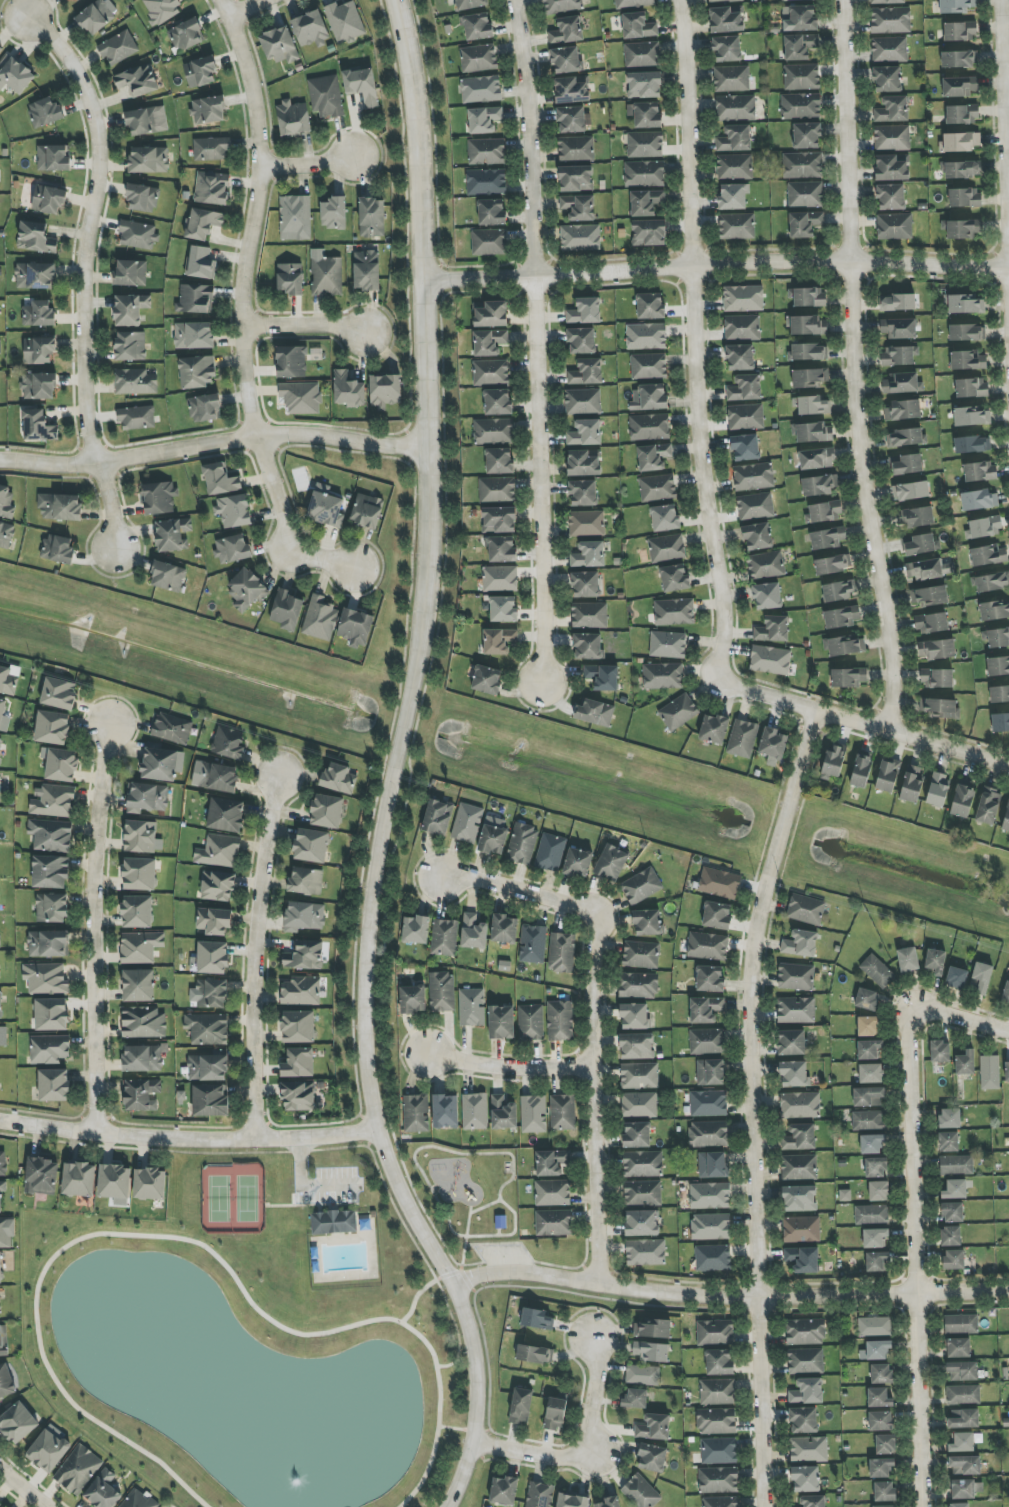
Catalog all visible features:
building: (77, 0)
building: (723, 0)
building: (784, 0)
building: (886, 1)
building: (633, 3)
building: (469, 4)
road: (241, 6)
building: (562, 6)
building: (956, 6)
building: (161, 10)
building: (95, 17)
building: (799, 18)
building: (726, 19)
building: (890, 20)
building: (345, 22)
building: (638, 26)
building: (478, 27)
building: (310, 29)
building: (566, 30)
building: (960, 31)
building: (186, 35)
building: (280, 46)
building: (799, 46)
building: (0, 48)
building: (117, 48)
building: (726, 49)
building: (889, 49)
building: (642, 54)
building: (479, 58)
building: (959, 59)
building: (567, 60)
building: (201, 72)
building: (15, 76)
building: (801, 77)
building: (731, 78)
building: (887, 79)
building: (138, 80)
building: (644, 85)
building: (361, 86)
building: (959, 86)
building: (481, 89)
building: (571, 89)
building: (326, 97)
building: (801, 106)
building: (735, 108)
building: (892, 109)
building: (209, 110)
building: (45, 112)
building: (645, 114)
building: (962, 115)
building: (293, 119)
building: (572, 119)
building: (483, 120)
building: (147, 121)
building: (806, 135)
building: (892, 137)
building: (735, 139)
building: (959, 142)
building: (644, 144)
building: (576, 148)
building: (211, 149)
road: (1004, 149)
building: (486, 152)
building: (54, 158)
building: (149, 160)
building: (802, 165)
road: (306, 166)
building: (734, 166)
building: (892, 167)
building: (961, 169)
building: (644, 173)
building: (575, 178)
building: (485, 182)
building: (212, 188)
building: (805, 194)
building: (733, 197)
building: (890, 197)
building: (964, 197)
building: (142, 198)
building: (48, 200)
building: (646, 202)
building: (578, 207)
building: (491, 212)
building: (334, 213)
building: (372, 217)
building: (295, 218)
building: (203, 223)
building: (805, 224)
building: (736, 226)
building: (894, 226)
building: (962, 228)
building: (648, 233)
building: (137, 235)
building: (36, 238)
building: (580, 238)
building: (489, 242)
building: (201, 263)
road: (714, 265)
building: (367, 271)
road: (80, 273)
building: (131, 273)
building: (35, 276)
building: (327, 276)
building: (291, 279)
building: (807, 297)
building: (743, 298)
building: (196, 299)
building: (897, 302)
building: (964, 304)
road: (241, 306)
building: (650, 306)
building: (130, 310)
building: (585, 311)
building: (38, 314)
building: (491, 315)
road: (303, 325)
building: (806, 325)
building: (742, 327)
building: (898, 328)
building: (967, 332)
building: (194, 335)
building: (646, 336)
road: (536, 339)
road: (693, 339)
building: (581, 341)
building: (489, 342)
building: (131, 346)
building: (1, 348)
building: (39, 351)
building: (808, 352)
building: (899, 355)
building: (740, 357)
building: (967, 360)
building: (291, 362)
building: (648, 366)
road: (854, 367)
building: (197, 372)
building: (490, 372)
building: (586, 372)
building: (809, 378)
building: (135, 382)
building: (902, 383)
building: (39, 386)
building: (745, 388)
building: (971, 388)
building: (348, 390)
building: (384, 391)
building: (649, 397)
building: (301, 398)
building: (583, 401)
building: (497, 402)
building: (811, 405)
building: (205, 408)
building: (903, 410)
building: (972, 416)
building: (745, 417)
building: (136, 418)
building: (38, 426)
building: (649, 427)
building: (494, 431)
building: (812, 432)
building: (585, 433)
building: (905, 438)
road: (213, 442)
building: (972, 444)
building: (745, 447)
building: (653, 457)
building: (817, 458)
building: (499, 461)
building: (584, 463)
building: (908, 465)
building: (980, 472)
building: (753, 476)
building: (220, 479)
building: (820, 485)
building: (657, 488)
building: (497, 490)
building: (911, 491)
building: (582, 493)
building: (159, 498)
building: (979, 500)
building: (6, 502)
building: (755, 506)
building: (60, 507)
building: (326, 509)
building: (233, 511)
building: (366, 511)
building: (824, 512)
building: (917, 517)
building: (664, 518)
building: (498, 520)
building: (586, 523)
building: (983, 528)
building: (6, 535)
building: (172, 535)
building: (756, 536)
building: (827, 538)
building: (922, 544)
building: (666, 548)
building: (58, 549)
building: (232, 549)
building: (502, 549)
building: (588, 555)
building: (988, 555)
building: (833, 564)
building: (766, 565)
building: (949, 568)
building: (924, 569)
building: (168, 577)
building: (499, 578)
building: (675, 578)
building: (990, 581)
building: (585, 584)
building: (246, 590)
building: (839, 590)
building: (929, 595)
building: (767, 596)
building: (503, 609)
building: (286, 610)
building: (994, 610)
building: (674, 612)
building: (589, 615)
building: (841, 617)
building: (319, 618)
building: (931, 623)
building: (355, 627)
building: (772, 629)
building: (996, 637)
building: (498, 641)
building: (667, 644)
building: (588, 646)
building: (845, 646)
building: (937, 649)
building: (770, 660)
building: (998, 666)
building: (662, 676)
building: (602, 677)
building: (849, 677)
building: (937, 678)
building: (486, 680)
building: (7, 681)
building: (59, 693)
building: (999, 694)
building: (940, 708)
building: (2, 709)
building: (678, 712)
building: (594, 713)
building: (1000, 722)
road: (861, 726)
building: (52, 728)
building: (172, 729)
building: (714, 729)
building: (742, 738)
building: (228, 743)
building: (772, 746)
building: (0, 750)
building: (833, 762)
building: (162, 764)
building: (61, 765)
road: (391, 767)
building: (861, 769)
building: (887, 775)
building: (215, 777)
building: (339, 779)
building: (912, 783)
building: (0, 786)
building: (938, 789)
building: (147, 798)
building: (52, 801)
building: (962, 801)
building: (988, 806)
building: (327, 811)
building: (226, 815)
building: (438, 817)
building: (1006, 818)
building: (466, 823)
building: (51, 835)
building: (140, 836)
building: (492, 840)
building: (522, 844)
building: (311, 846)
building: (219, 851)
building: (550, 852)
building: (577, 863)
building: (611, 863)
building: (50, 872)
building: (139, 874)
building: (306, 881)
building: (719, 883)
building: (218, 886)
building: (641, 886)
building: (52, 908)
building: (806, 909)
building: (137, 912)
building: (717, 915)
building: (304, 916)
building: (215, 921)
building: (647, 923)
road: (91, 928)
building: (504, 929)
building: (415, 930)
building: (473, 932)
building: (444, 938)
building: (0, 941)
building: (800, 943)
building: (48, 944)
building: (533, 944)
building: (707, 946)
building: (140, 947)
building: (561, 953)
building: (640, 954)
road: (252, 956)
building: (305, 956)
building: (213, 958)
building: (908, 960)
building: (936, 961)
building: (877, 971)
building: (795, 977)
building: (956, 978)
building: (980, 978)
building: (45, 979)
building: (710, 979)
building: (638, 985)
building: (139, 986)
building: (301, 991)
building: (442, 992)
building: (1006, 993)
building: (212, 994)
building: (412, 999)
building: (866, 999)
building: (1, 1006)
building: (471, 1007)
building: (705, 1009)
building: (796, 1010)
building: (51, 1014)
building: (634, 1016)
road: (964, 1017)
building: (560, 1021)
building: (143, 1022)
building: (501, 1022)
building: (530, 1022)
road: (593, 1022)
building: (868, 1026)
building: (298, 1027)
building: (207, 1029)
building: (3, 1036)
building: (706, 1041)
building: (791, 1043)
building: (637, 1046)
building: (49, 1049)
building: (869, 1050)
building: (940, 1051)
building: (143, 1059)
building: (299, 1063)
building: (965, 1063)
building: (208, 1068)
road: (509, 1068)
building: (1007, 1071)
building: (710, 1072)
building: (989, 1072)
building: (871, 1073)
building: (794, 1074)
building: (639, 1076)
building: (53, 1085)
building: (141, 1095)
building: (299, 1096)
building: (869, 1097)
building: (210, 1100)
building: (708, 1103)
building: (639, 1104)
road: (748, 1105)
building: (800, 1105)
building: (445, 1111)
building: (474, 1111)
building: (562, 1112)
building: (416, 1113)
building: (503, 1113)
building: (533, 1114)
building: (949, 1118)
building: (868, 1120)
building: (636, 1134)
building: (708, 1134)
road: (188, 1138)
building: (799, 1138)
road: (373, 1141)
building: (948, 1142)
building: (873, 1144)
road: (301, 1161)
building: (551, 1162)
building: (3, 1164)
building: (642, 1164)
building: (712, 1165)
building: (956, 1165)
building: (799, 1167)
building: (876, 1167)
building: (41, 1176)
building: (78, 1179)
building: (114, 1182)
building: (149, 1184)
road: (333, 1184)
parking lot: (331, 1188)
building: (955, 1189)
building: (878, 1191)
building: (552, 1193)
building: (642, 1193)
road: (333, 1194)
building: (709, 1196)
building: (799, 1198)
building: (0, 1202)
road: (312, 1204)
building: (952, 1212)
building: (871, 1214)
building: (334, 1222)
building: (553, 1223)
building: (642, 1223)
building: (710, 1226)
building: (801, 1229)
road: (408, 1232)
building: (950, 1236)
road: (184, 1238)
building: (875, 1238)
building: (645, 1252)
road: (912, 1253)
building: (713, 1258)
building: (802, 1259)
building: (953, 1259)
building: (877, 1262)
building: (1, 1268)
road: (419, 1295)
road: (728, 1295)
building: (0, 1316)
building: (536, 1319)
building: (961, 1324)
building: (874, 1326)
building: (652, 1329)
building: (715, 1332)
building: (805, 1332)
building: (3, 1342)
building: (958, 1348)
building: (651, 1351)
building: (876, 1351)
building: (535, 1354)
building: (805, 1361)
building: (719, 1362)
building: (962, 1371)
building: (881, 1374)
building: (642, 1375)
building: (6, 1382)
building: (807, 1391)
building: (717, 1392)
building: (963, 1394)
building: (635, 1398)
building: (879, 1398)
building: (520, 1406)
building: (555, 1414)
building: (963, 1418)
building: (803, 1420)
building: (716, 1421)
building: (880, 1421)
building: (17, 1423)
building: (653, 1427)
road: (457, 1428)
fountain: (288, 1438)
building: (964, 1442)
building: (885, 1444)
road: (581, 1448)
building: (808, 1449)
building: (47, 1451)
building: (718, 1451)
building: (652, 1458)
building: (965, 1465)
building: (881, 1467)
building: (77, 1469)
building: (805, 1479)
building: (718, 1480)
road: (20, 1489)
building: (966, 1489)
building: (504, 1490)
building: (102, 1491)
building: (884, 1491)
building: (640, 1492)
building: (539, 1495)
building: (138, 1500)
building: (572, 1500)
building: (812, 1501)
building: (610, 1502)
building: (720, 1502)
building: (0, 1505)
building: (959, 1505)
building: (884, 1506)

